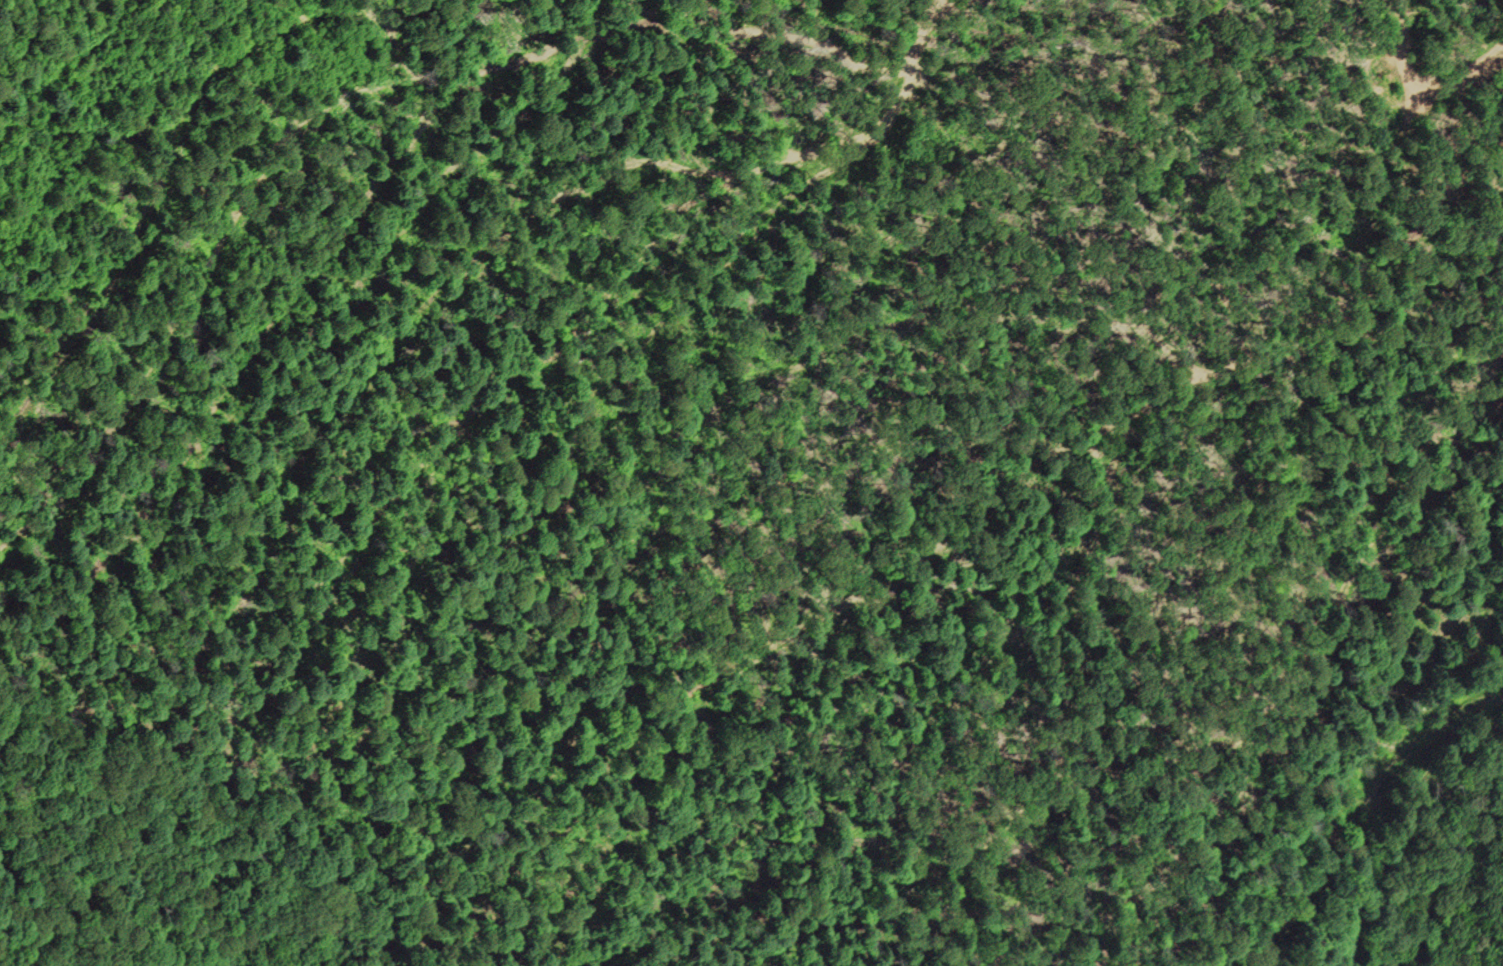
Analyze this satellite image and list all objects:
road: (510, 482)

